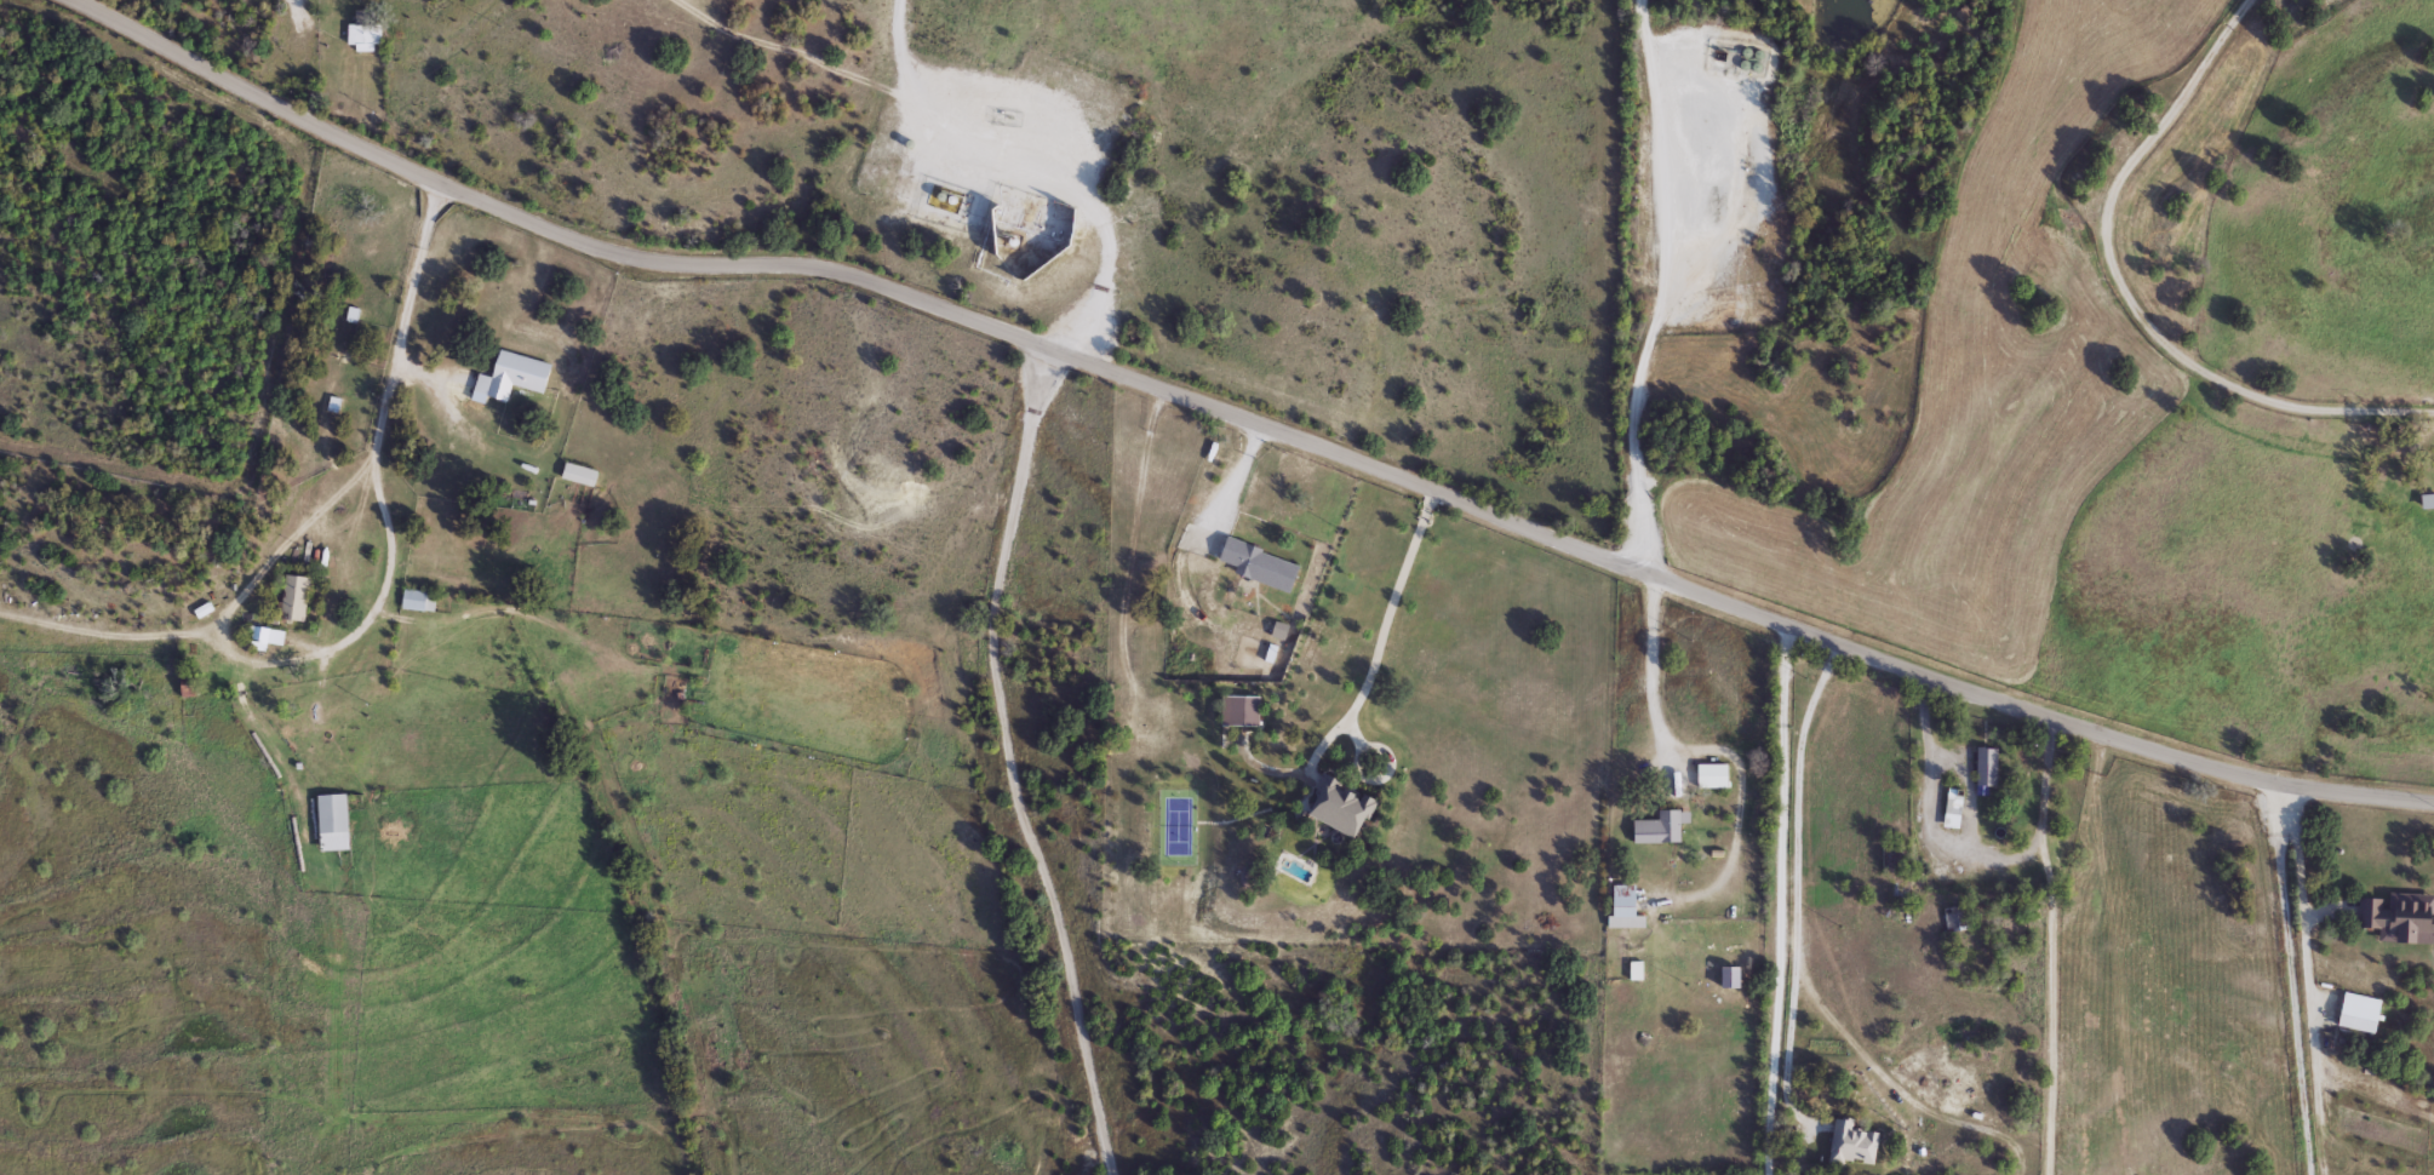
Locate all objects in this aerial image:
road: (294, 6)
building: (362, 29)
road: (804, 53)
road: (319, 61)
road: (1037, 162)
road: (1666, 286)
road: (2134, 292)
building: (515, 376)
road: (1243, 412)
building: (577, 475)
road: (1232, 477)
building: (2427, 503)
road: (287, 540)
building: (1255, 566)
road: (384, 597)
building: (293, 600)
building: (418, 602)
building: (264, 640)
road: (1370, 670)
building: (1242, 712)
building: (339, 735)
road: (1720, 745)
road: (1009, 762)
building: (1985, 768)
building: (1711, 776)
building: (1338, 808)
building: (1951, 809)
road: (1935, 812)
building: (331, 824)
building: (1659, 830)
building: (1897, 859)
road: (1800, 864)
road: (1783, 901)
building: (1622, 909)
building: (2396, 919)
road: (2052, 947)
road: (2292, 980)
building: (2355, 1020)
road: (2366, 1085)

